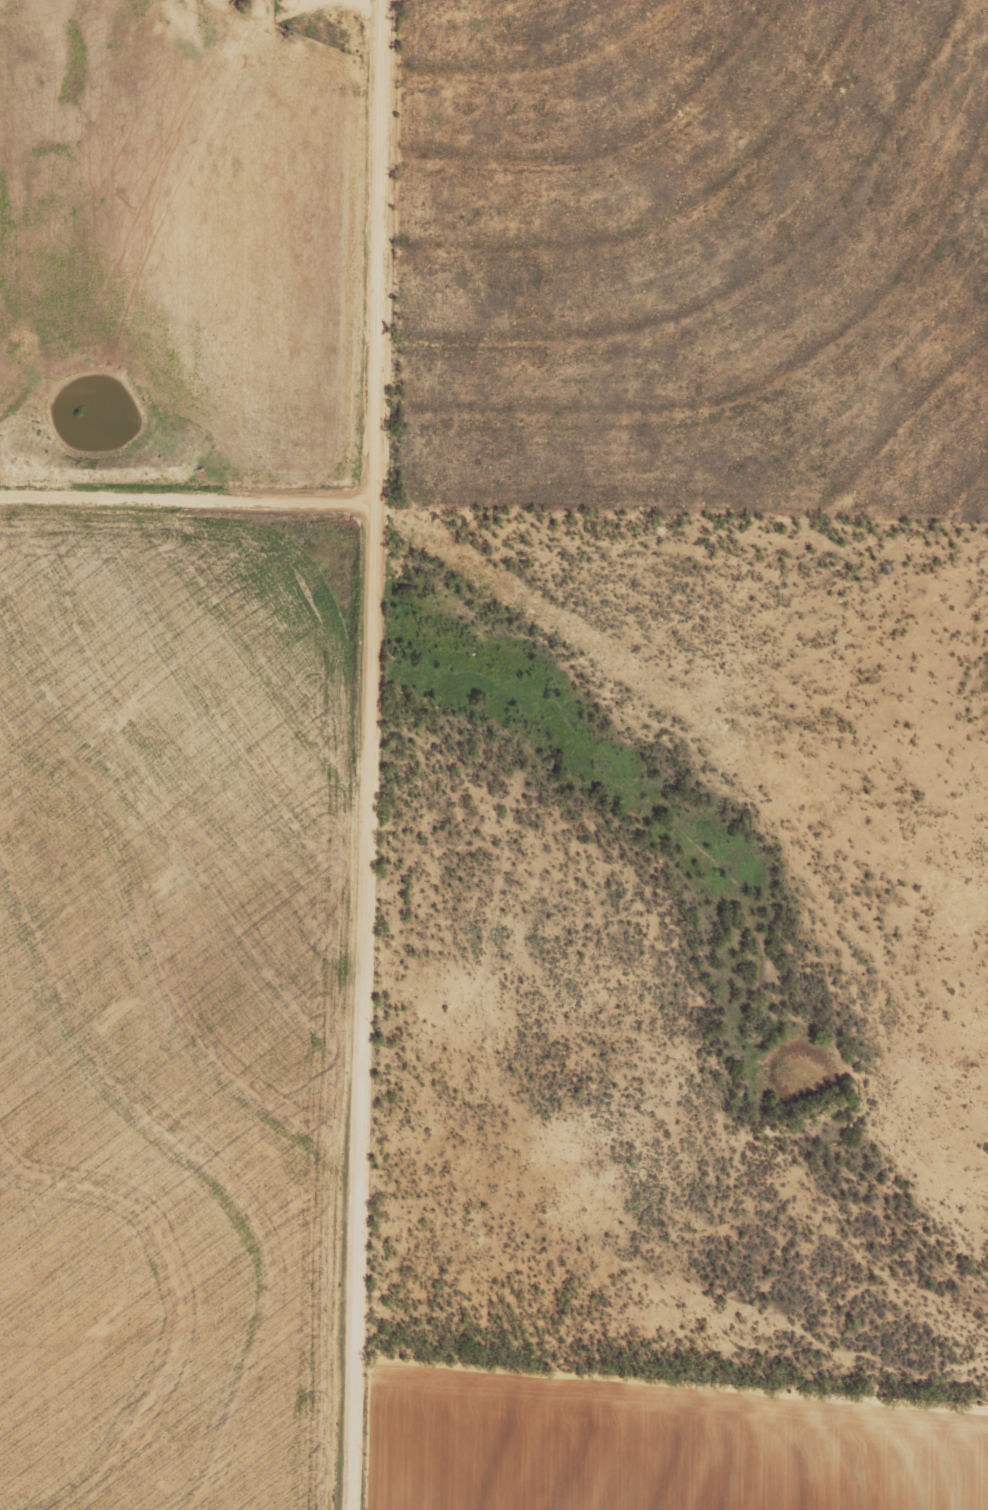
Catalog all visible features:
road: (189, 496)
road: (371, 755)

